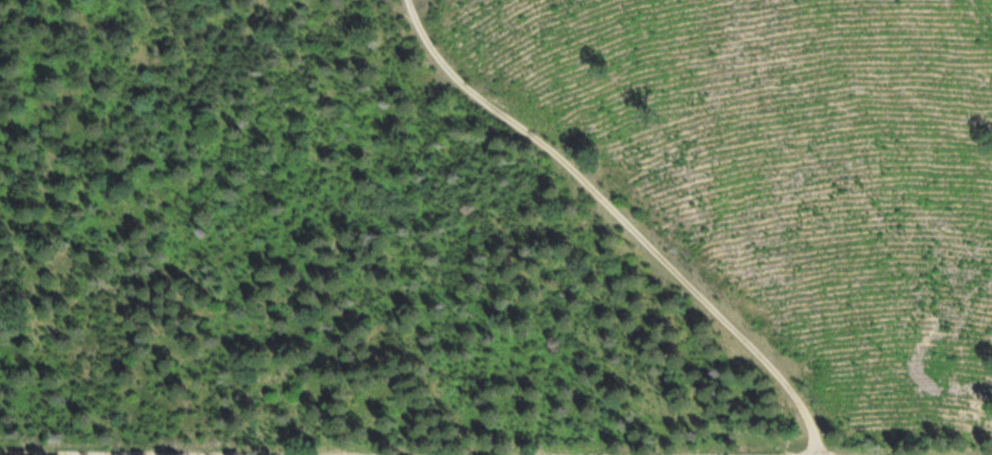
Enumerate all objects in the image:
road: (621, 218)

